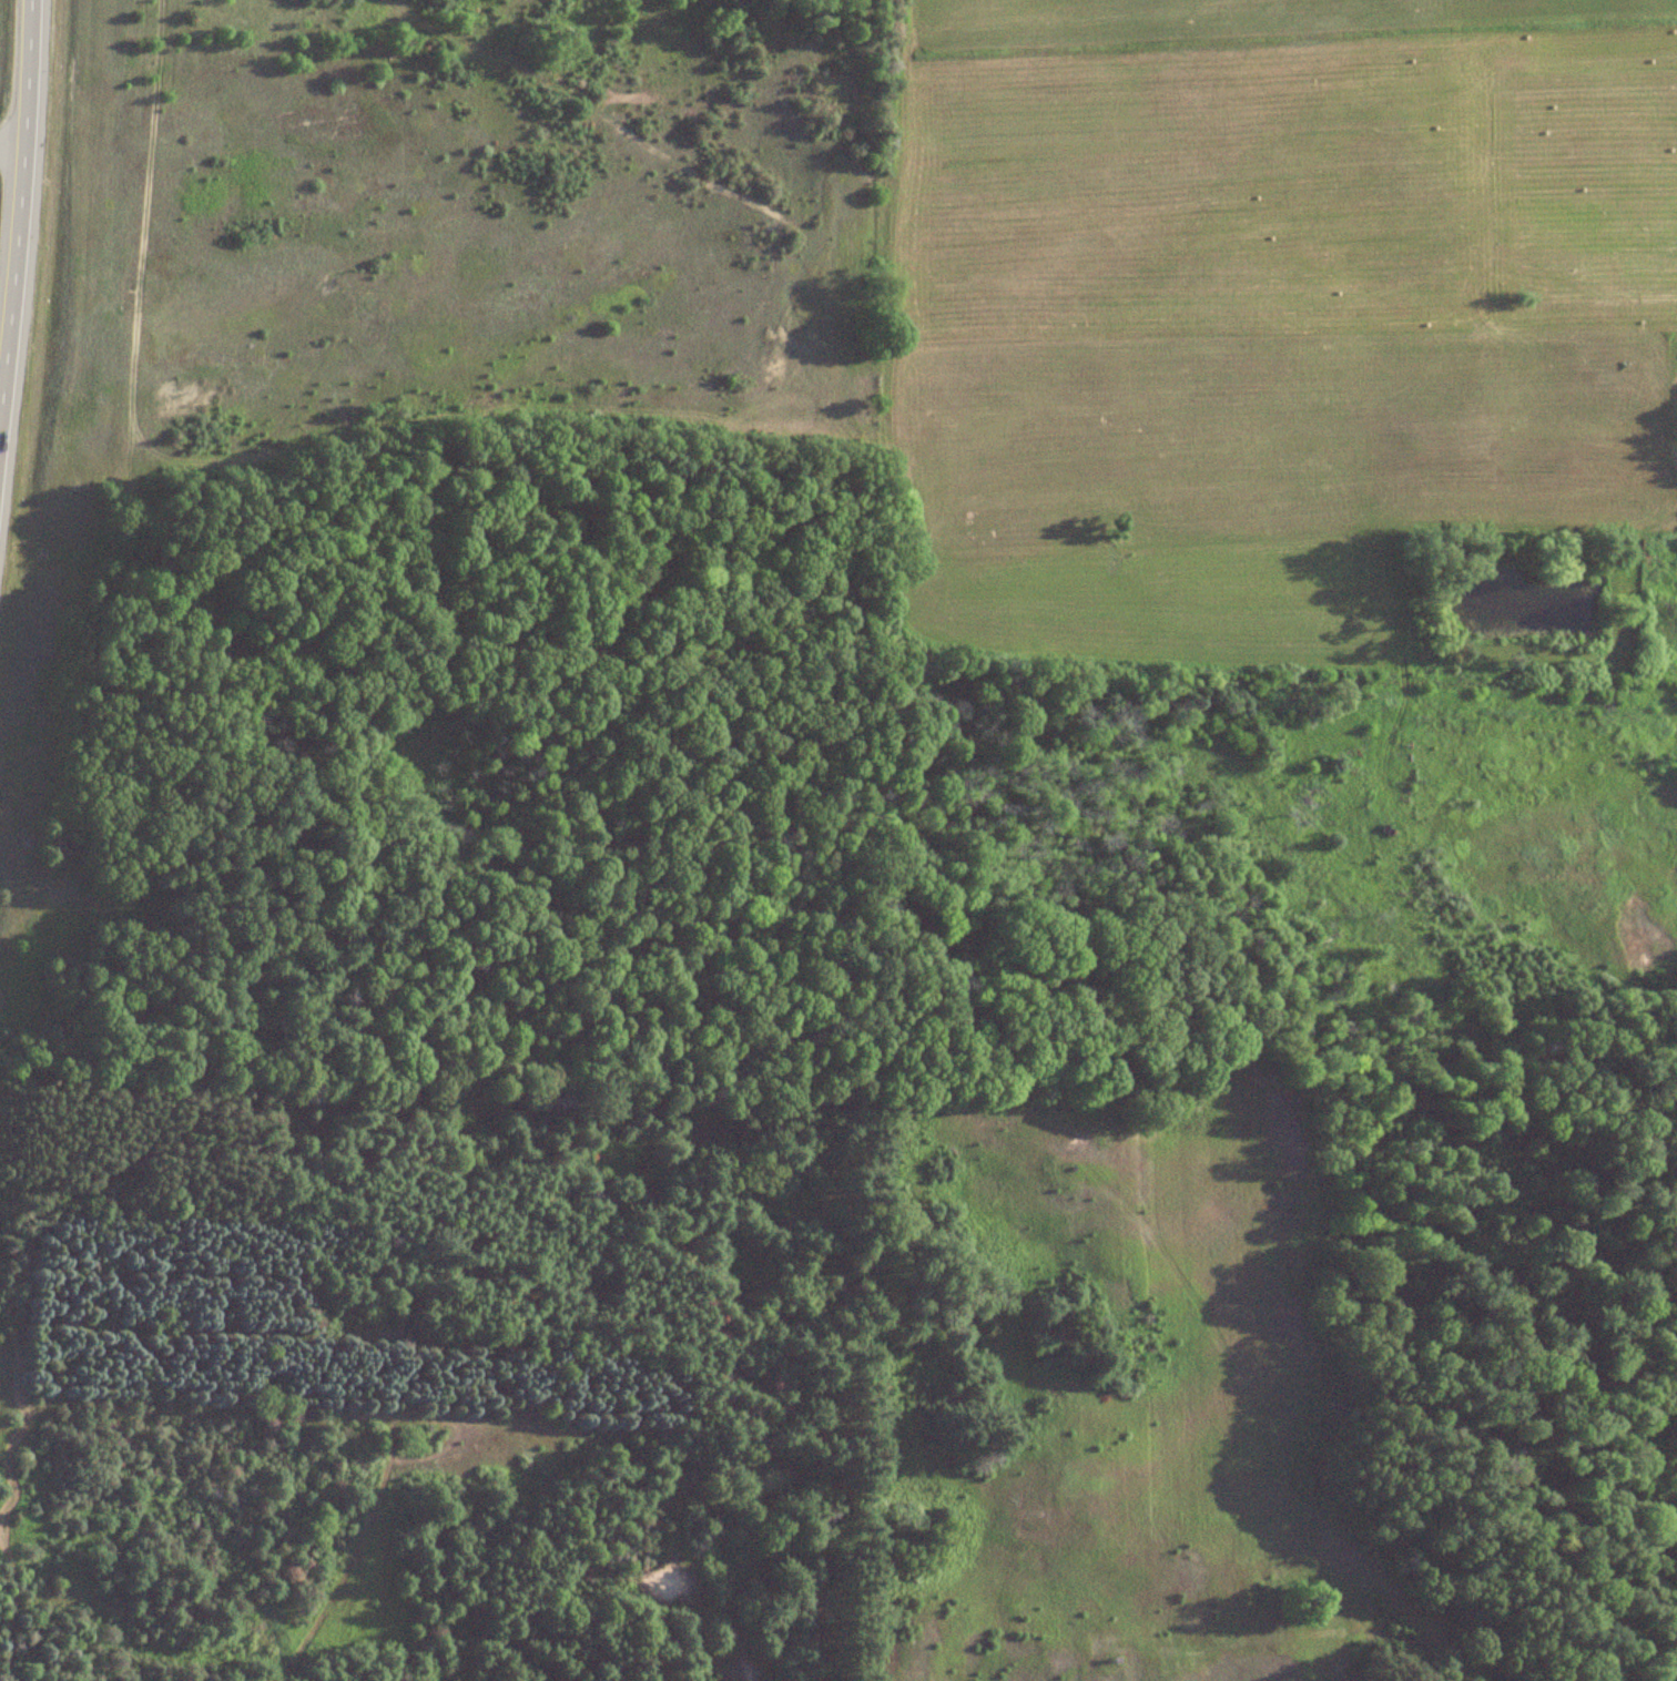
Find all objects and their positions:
road: (21, 153)
road: (32, 230)

